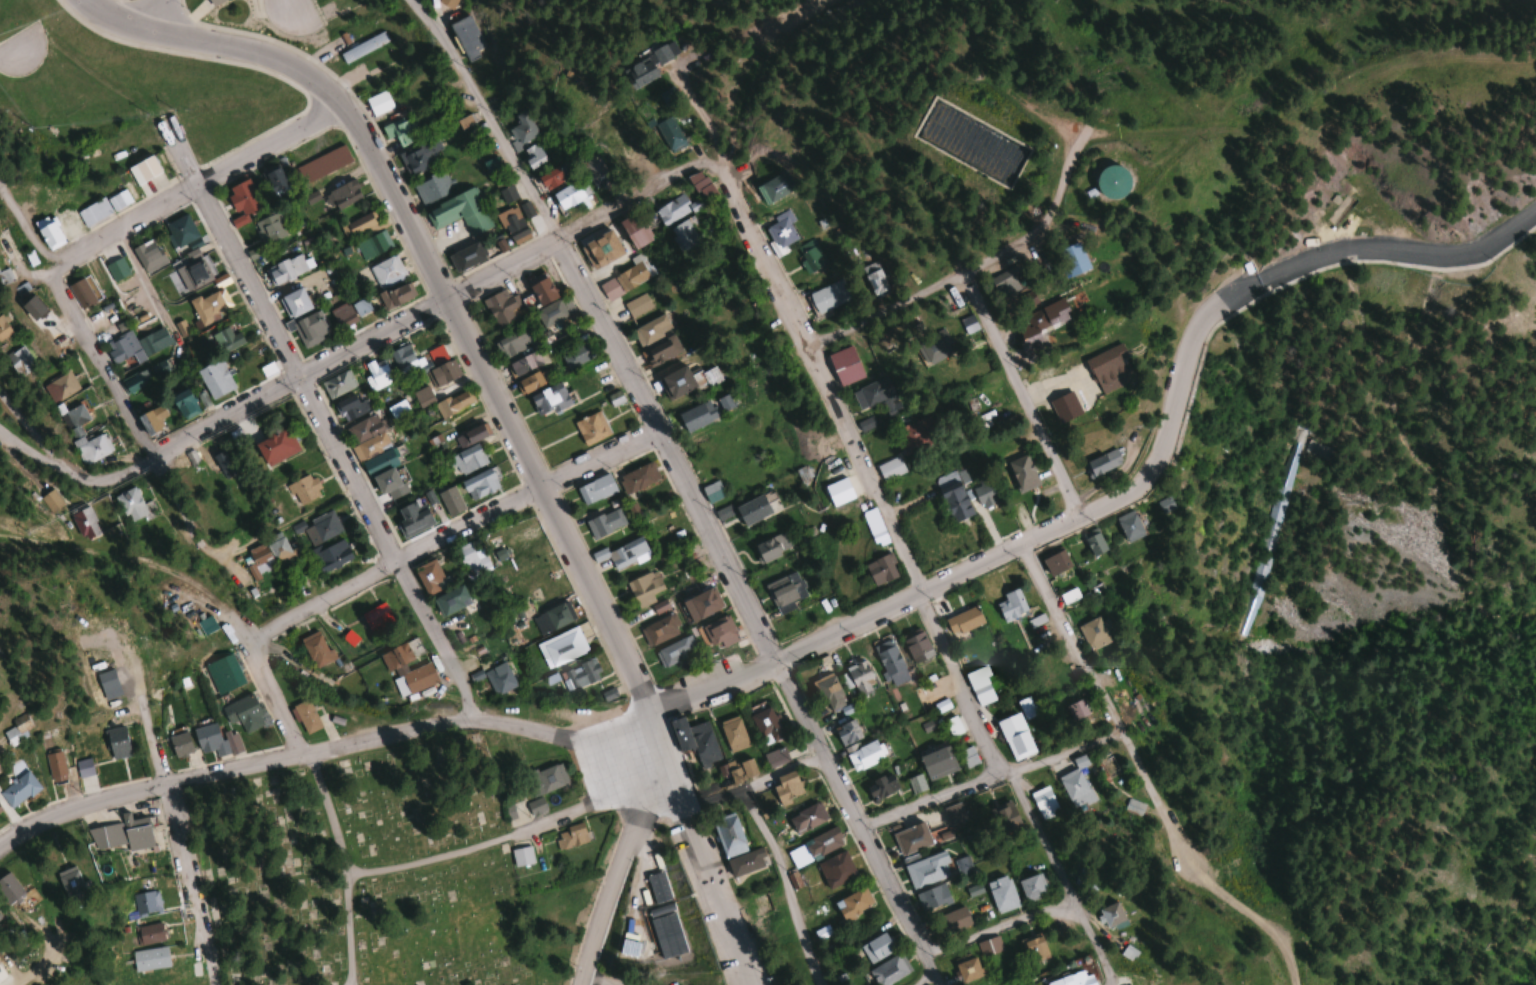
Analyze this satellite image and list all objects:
road: (289, 0)
building: (213, 2)
building: (446, 2)
road: (789, 9)
road: (164, 18)
building: (465, 36)
road: (6, 47)
building: (363, 47)
building: (658, 51)
building: (634, 71)
building: (664, 96)
building: (378, 103)
building: (465, 122)
building: (599, 122)
building: (521, 130)
building: (398, 132)
building: (668, 133)
building: (964, 141)
building: (620, 145)
road: (268, 146)
building: (535, 153)
building: (421, 155)
building: (326, 163)
building: (146, 169)
building: (596, 173)
building: (550, 178)
building: (273, 179)
building: (1109, 179)
building: (701, 184)
building: (432, 187)
building: (773, 187)
road: (209, 188)
building: (507, 194)
building: (341, 195)
building: (564, 196)
building: (242, 197)
building: (106, 205)
building: (672, 209)
building: (460, 212)
building: (360, 226)
building: (512, 226)
road: (122, 227)
building: (268, 228)
building: (781, 229)
road: (24, 230)
building: (181, 230)
building: (634, 230)
building: (49, 235)
building: (683, 236)
building: (372, 245)
building: (601, 249)
road: (1400, 250)
building: (148, 255)
building: (467, 257)
building: (812, 259)
road: (967, 266)
building: (117, 269)
building: (285, 269)
road: (507, 269)
building: (386, 272)
building: (193, 274)
building: (626, 278)
building: (874, 279)
road: (429, 285)
building: (1004, 285)
building: (539, 290)
building: (81, 293)
building: (396, 295)
building: (826, 297)
building: (293, 302)
road: (464, 303)
building: (209, 306)
building: (637, 306)
building: (360, 307)
building: (499, 307)
building: (554, 311)
building: (33, 312)
building: (342, 315)
building: (1040, 319)
building: (309, 328)
building: (3, 330)
building: (651, 330)
building: (226, 339)
building: (514, 341)
building: (882, 341)
building: (137, 344)
building: (934, 345)
building: (662, 350)
building: (576, 354)
building: (20, 358)
building: (404, 359)
building: (524, 363)
road: (101, 364)
building: (845, 365)
building: (158, 367)
building: (440, 367)
building: (1106, 367)
building: (376, 374)
building: (708, 378)
building: (214, 379)
road: (313, 380)
building: (135, 381)
building: (528, 382)
building: (676, 382)
building: (338, 384)
building: (60, 386)
road: (1022, 393)
building: (877, 396)
building: (548, 399)
building: (615, 399)
building: (452, 403)
building: (184, 404)
building: (1063, 406)
building: (350, 407)
building: (397, 409)
building: (696, 416)
building: (153, 419)
road: (323, 421)
building: (865, 424)
building: (591, 428)
road: (0, 431)
building: (470, 435)
building: (917, 435)
building: (76, 436)
building: (366, 438)
building: (275, 447)
building: (1316, 450)
road: (151, 458)
building: (468, 460)
building: (220, 461)
building: (1100, 463)
building: (890, 469)
building: (382, 471)
building: (1020, 474)
building: (639, 478)
building: (479, 485)
road: (685, 486)
building: (303, 490)
building: (595, 490)
building: (837, 491)
road: (525, 492)
building: (712, 492)
building: (985, 495)
road: (177, 498)
building: (50, 501)
building: (450, 501)
building: (954, 502)
building: (130, 505)
building: (1163, 505)
building: (752, 510)
building: (412, 520)
building: (83, 522)
building: (605, 523)
building: (1127, 525)
building: (320, 528)
building: (1092, 542)
building: (766, 551)
road: (1006, 551)
building: (269, 552)
building: (622, 554)
building: (331, 556)
building: (472, 561)
building: (1054, 562)
building: (881, 570)
road: (912, 572)
building: (429, 577)
building: (239, 578)
building: (644, 588)
building: (786, 591)
road: (323, 601)
building: (450, 601)
building: (698, 605)
building: (1010, 605)
building: (377, 618)
building: (553, 618)
building: (963, 621)
building: (206, 625)
building: (661, 629)
building: (719, 631)
building: (1092, 633)
building: (916, 645)
building: (561, 648)
building: (316, 649)
building: (675, 651)
building: (395, 657)
building: (888, 659)
building: (223, 674)
building: (580, 675)
building: (415, 678)
building: (857, 678)
building: (499, 679)
road: (269, 681)
building: (979, 686)
road: (1098, 691)
building: (828, 692)
building: (243, 714)
building: (305, 717)
building: (766, 726)
building: (846, 732)
building: (733, 734)
building: (1010, 734)
road: (562, 737)
building: (214, 740)
building: (694, 740)
building: (116, 742)
building: (179, 743)
building: (864, 756)
building: (968, 756)
building: (775, 757)
building: (937, 762)
building: (54, 766)
building: (83, 767)
road: (230, 767)
building: (740, 770)
building: (545, 779)
building: (882, 786)
building: (786, 787)
building: (17, 789)
building: (1074, 789)
road: (933, 798)
road: (589, 801)
building: (1042, 803)
building: (535, 806)
building: (1130, 806)
road: (326, 812)
building: (953, 813)
building: (806, 817)
building: (1001, 818)
building: (122, 833)
building: (727, 834)
building: (940, 834)
building: (569, 836)
building: (911, 837)
road: (181, 838)
building: (822, 843)
road: (700, 850)
road: (620, 852)
building: (521, 856)
building: (746, 862)
building: (961, 865)
building: (836, 869)
building: (926, 870)
building: (66, 880)
road: (782, 886)
building: (7, 887)
building: (1028, 888)
building: (998, 894)
building: (931, 897)
building: (852, 903)
building: (760, 904)
building: (144, 905)
building: (1105, 917)
building: (952, 920)
road: (993, 927)
road: (351, 929)
building: (148, 934)
building: (984, 947)
building: (874, 948)
building: (1028, 950)
building: (148, 960)
building: (963, 970)
building: (886, 971)
road: (594, 973)
road: (916, 978)
building: (1066, 979)
road: (1099, 984)

